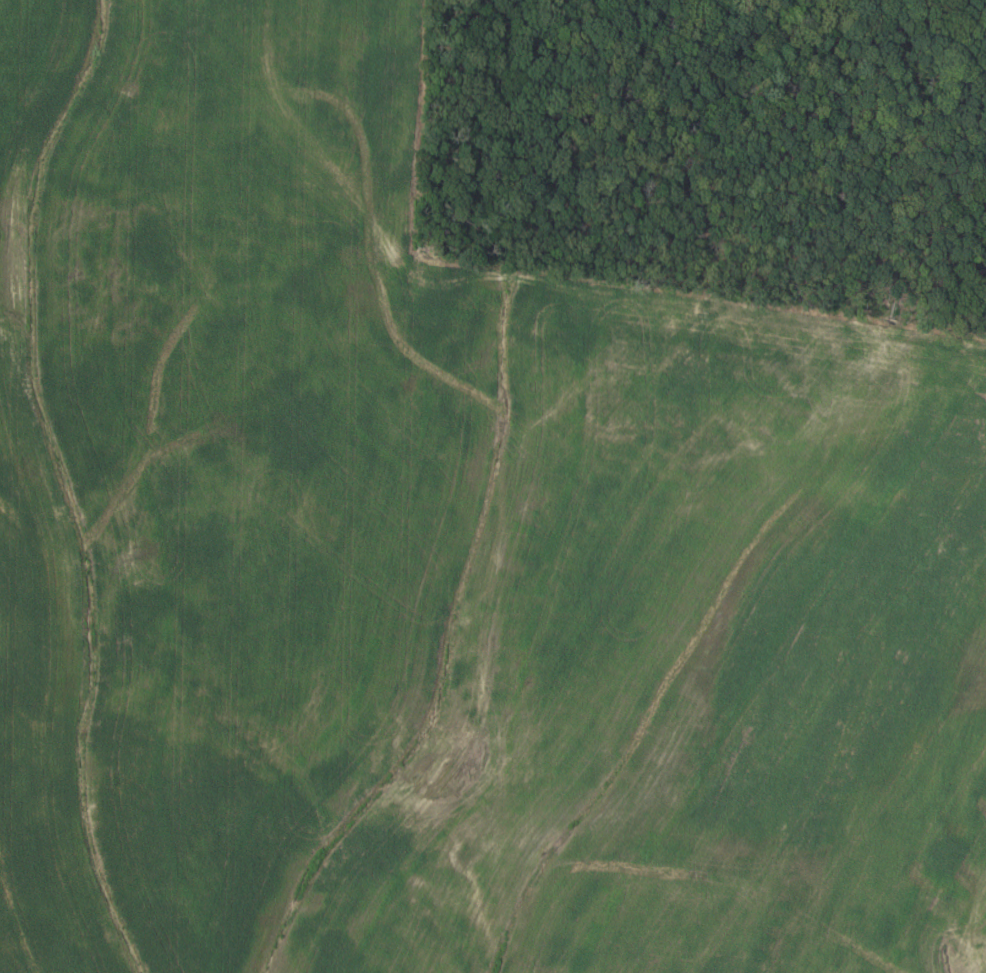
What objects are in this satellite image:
crop: (445, 558)

